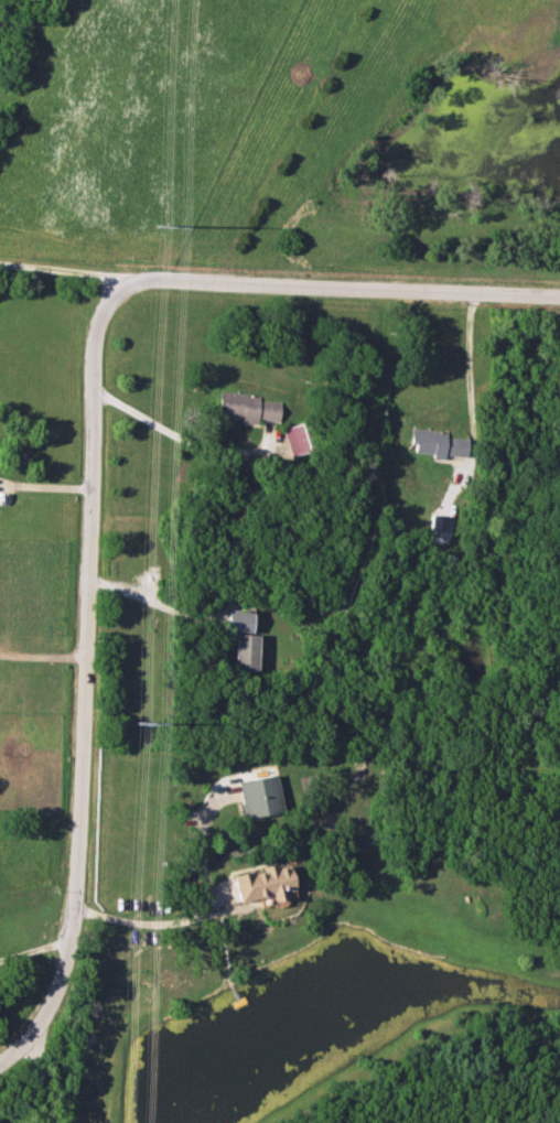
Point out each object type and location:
power tower: (160, 227)
road: (65, 274)
road: (332, 285)
road: (471, 367)
building: (246, 409)
road: (177, 436)
building: (299, 439)
building: (435, 444)
road: (154, 603)
building: (244, 652)
road: (43, 658)
road: (86, 660)
power tower: (137, 725)
building: (258, 797)
building: (260, 884)
road: (149, 922)
road: (32, 948)
road: (13, 1038)
road: (36, 1071)

